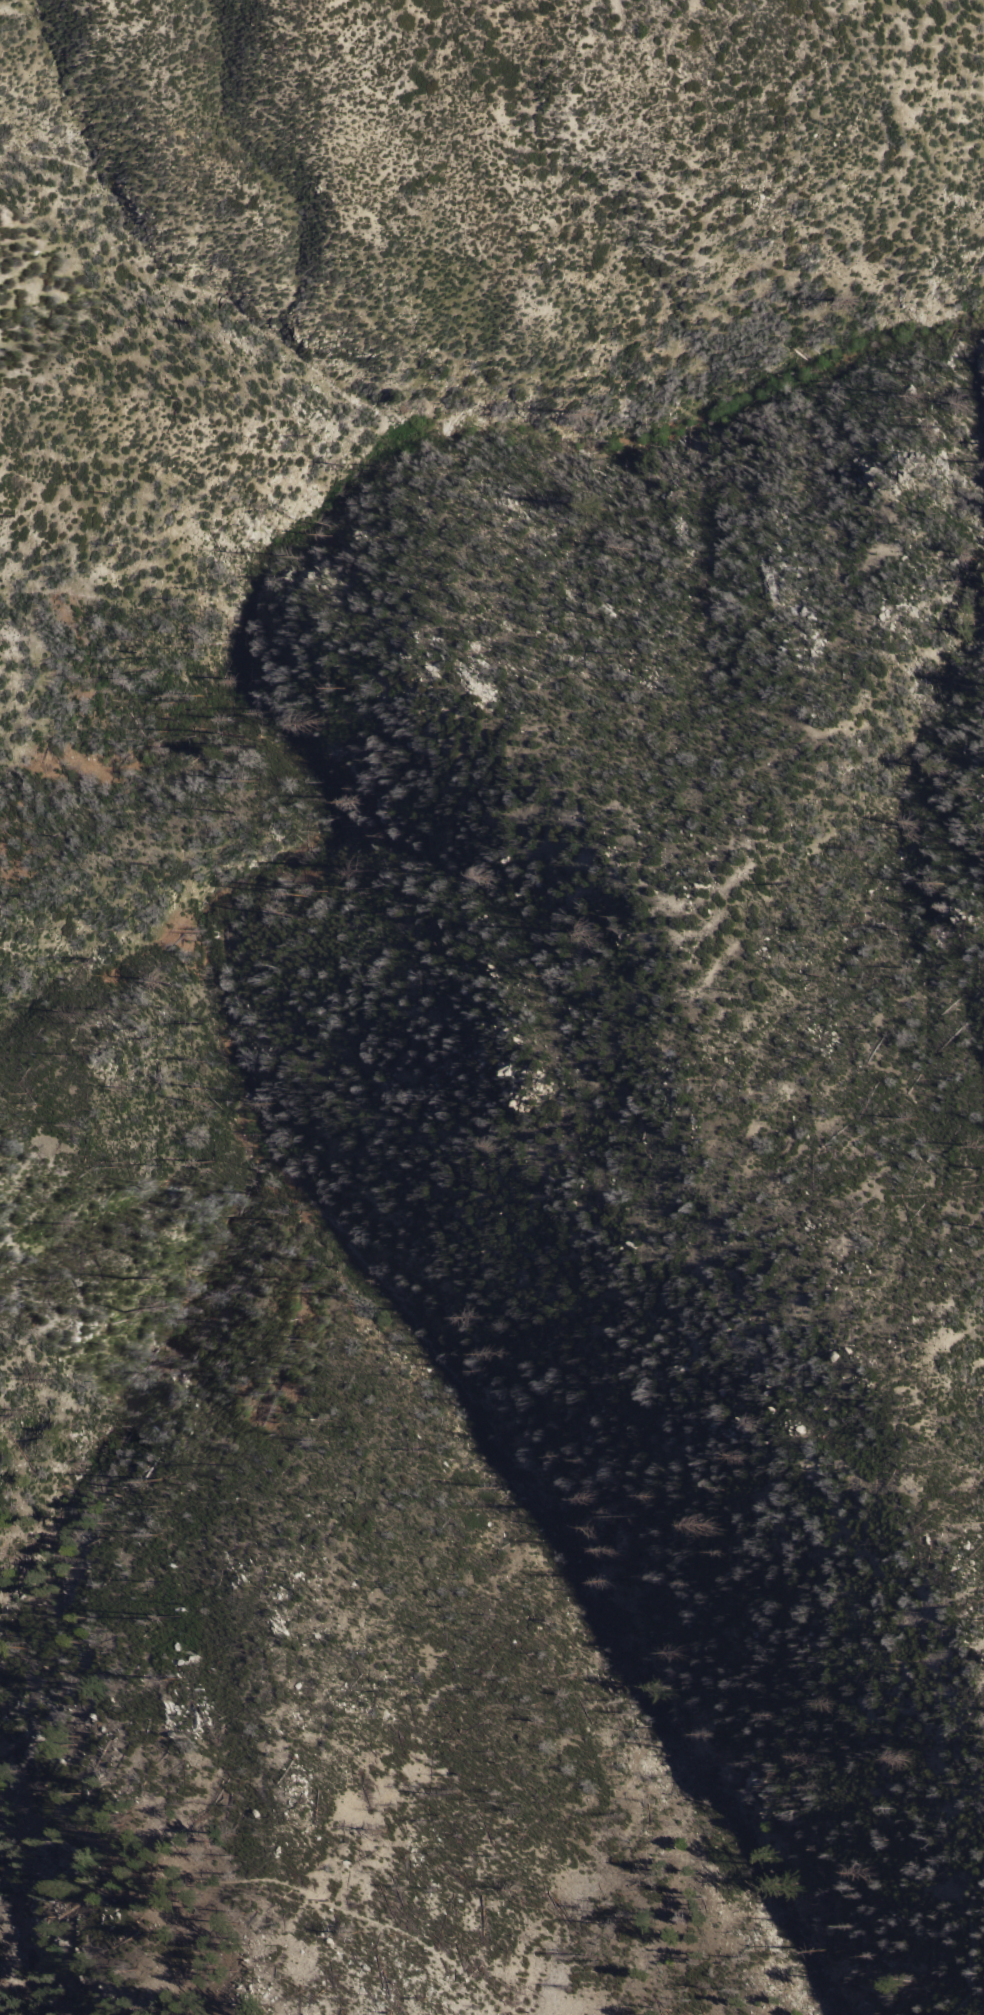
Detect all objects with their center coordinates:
road: (256, 1877)
road: (967, 1937)

